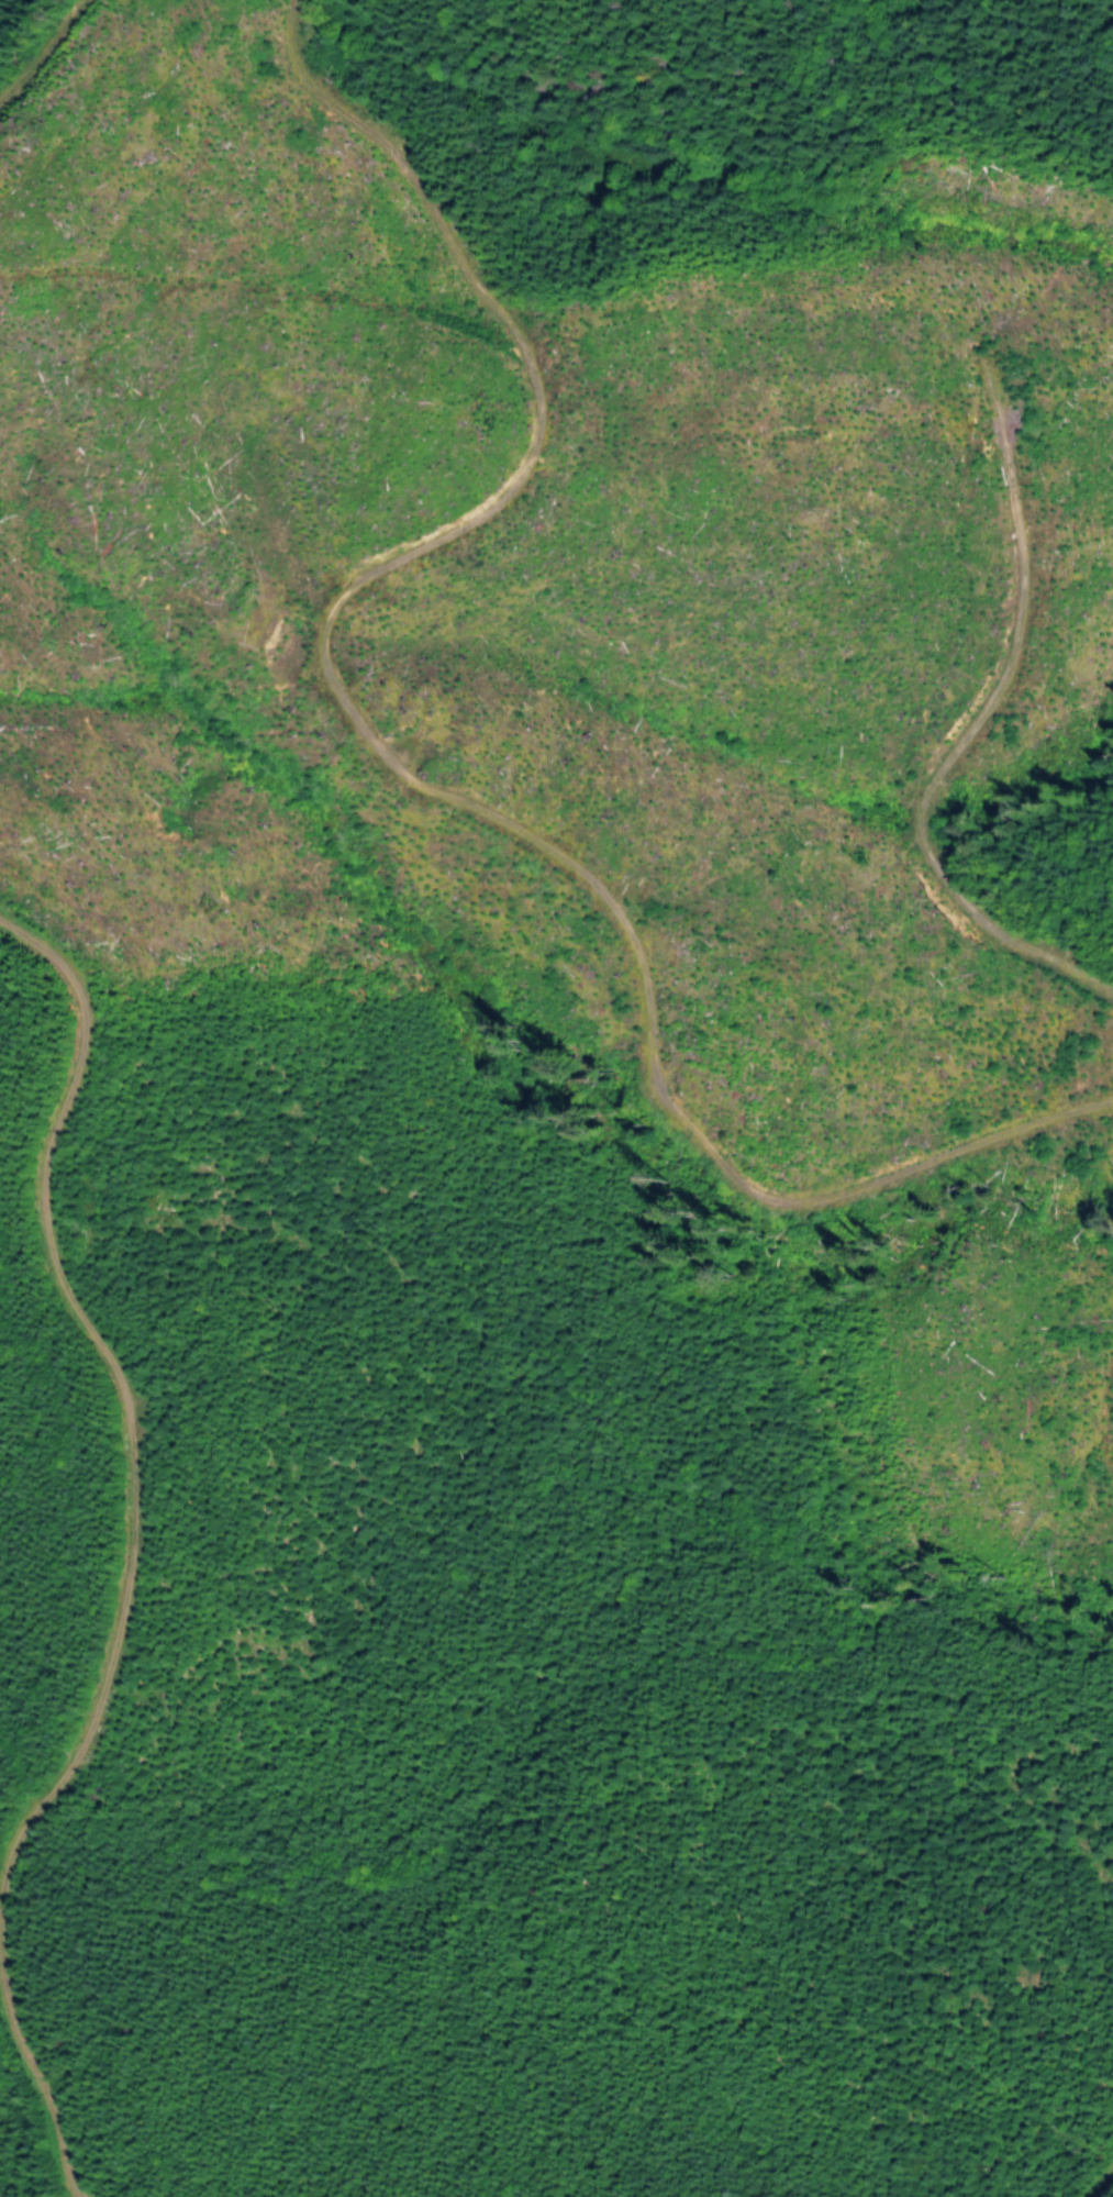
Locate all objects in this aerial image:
road: (64, 53)
road: (1012, 696)
road: (413, 745)

